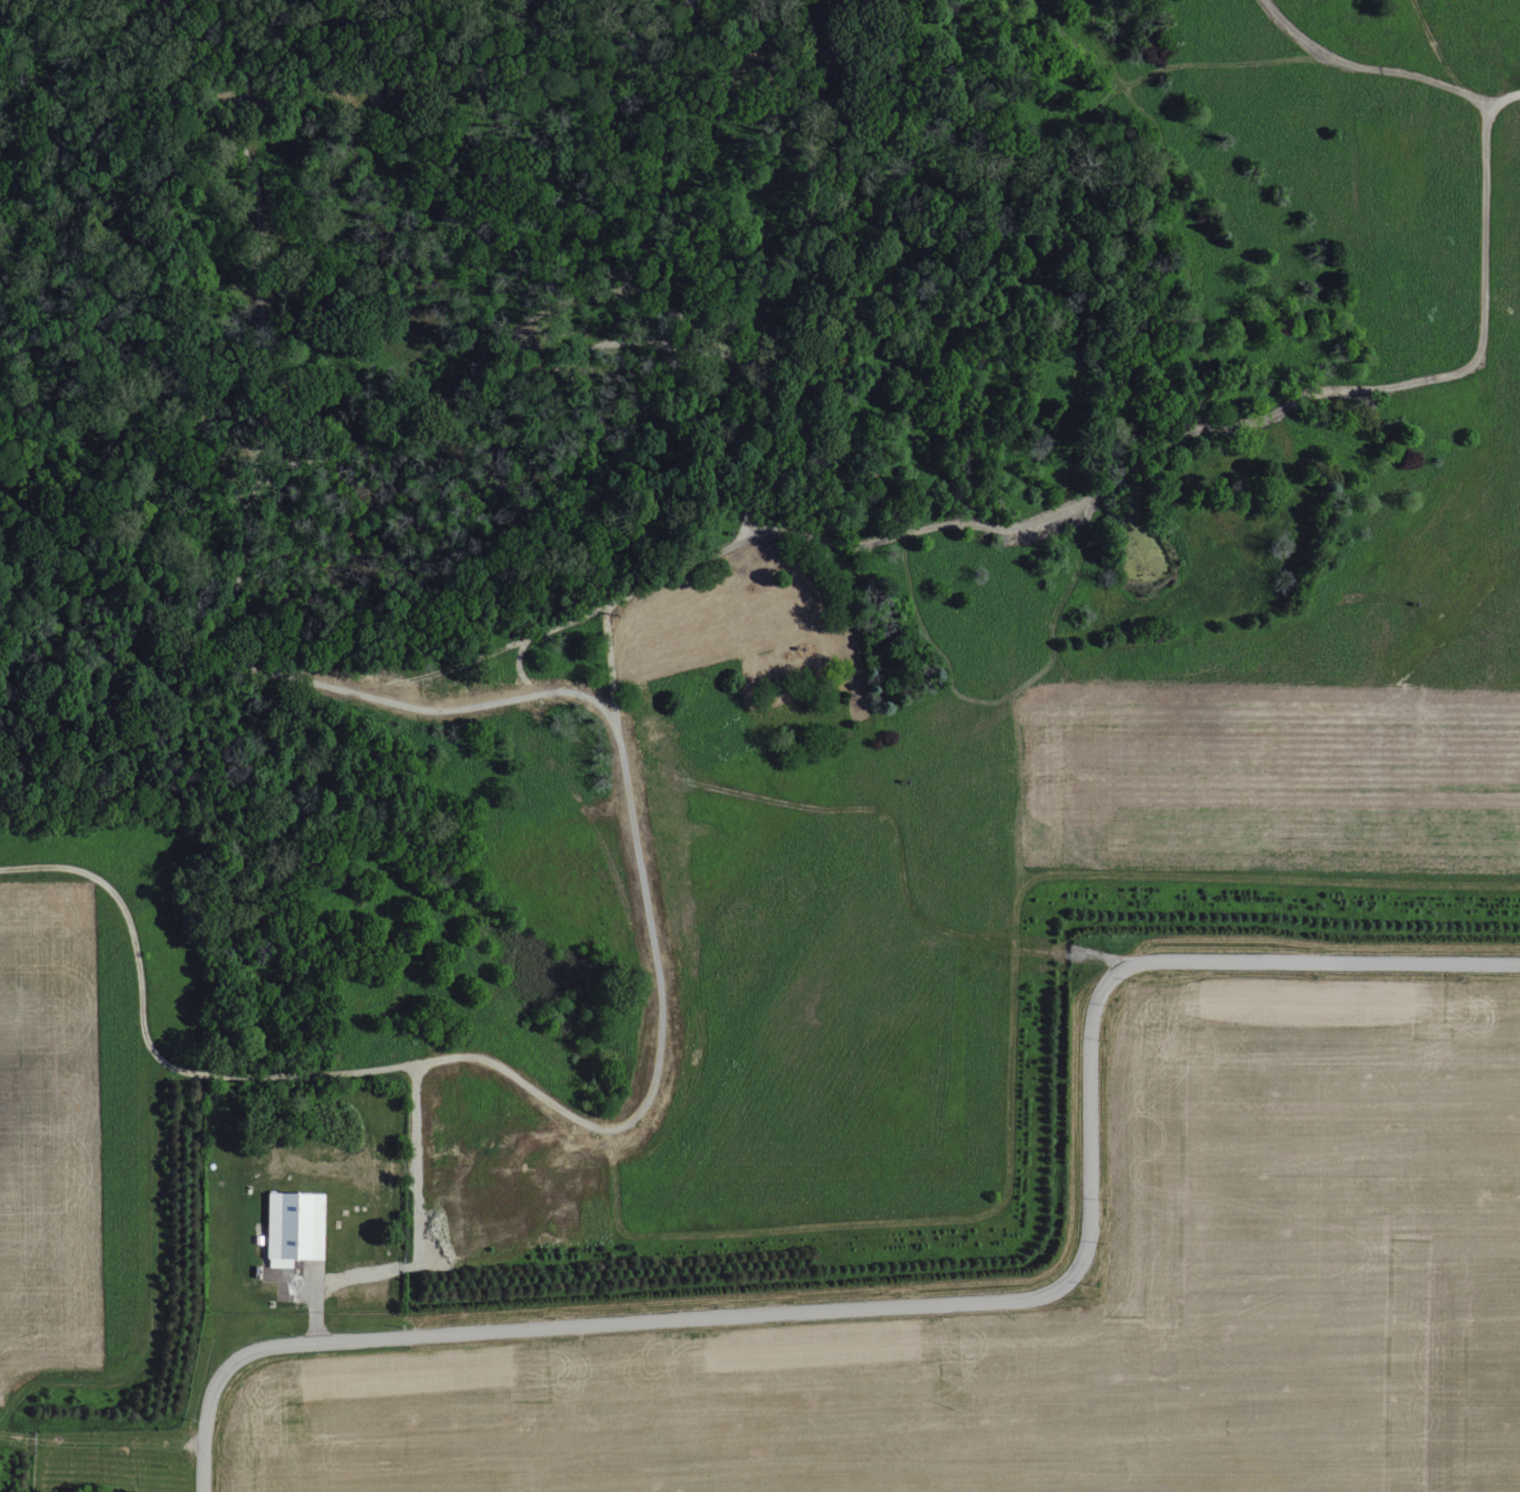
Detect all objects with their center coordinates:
road: (610, 669)
building: (291, 1227)
road: (956, 1312)

